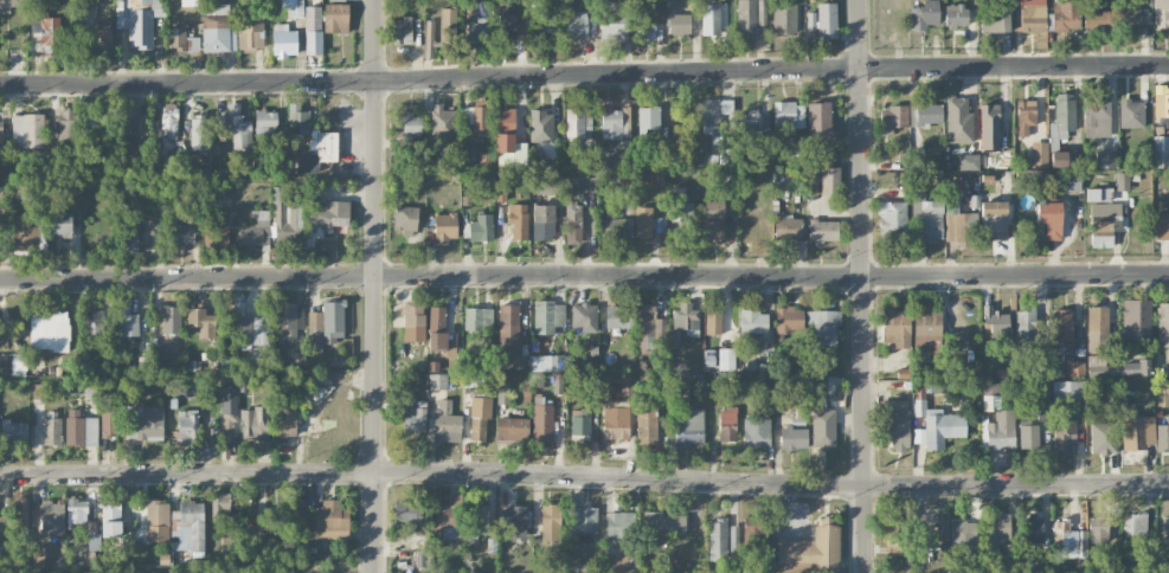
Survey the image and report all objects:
building: (538, 2)
building: (12, 5)
building: (294, 8)
building: (750, 14)
building: (1161, 14)
building: (923, 15)
building: (955, 15)
building: (1028, 15)
building: (1065, 15)
building: (336, 18)
building: (784, 18)
building: (823, 18)
building: (1132, 18)
building: (711, 19)
building: (1096, 19)
building: (136, 20)
building: (614, 20)
building: (647, 20)
building: (994, 20)
building: (542, 24)
building: (679, 24)
building: (579, 25)
building: (448, 26)
building: (217, 30)
building: (250, 30)
building: (313, 30)
building: (477, 30)
building: (46, 31)
building: (402, 31)
building: (102, 39)
building: (181, 39)
building: (284, 41)
road: (584, 76)
building: (1161, 102)
building: (714, 112)
building: (929, 112)
building: (1130, 114)
building: (95, 115)
building: (121, 115)
building: (788, 115)
building: (912, 115)
building: (1025, 116)
building: (1062, 116)
building: (1096, 117)
building: (892, 118)
building: (169, 120)
building: (298, 120)
building: (476, 121)
building: (648, 121)
building: (958, 121)
building: (756, 122)
building: (820, 122)
building: (443, 123)
building: (577, 123)
building: (614, 123)
building: (68, 125)
building: (235, 125)
building: (264, 125)
building: (411, 125)
building: (541, 125)
building: (989, 127)
building: (505, 129)
building: (27, 130)
building: (200, 134)
building: (795, 148)
building: (317, 152)
building: (1160, 152)
building: (1038, 155)
building: (1058, 159)
building: (1105, 159)
building: (968, 161)
building: (484, 162)
building: (721, 179)
building: (830, 180)
building: (1072, 181)
building: (550, 184)
building: (1097, 194)
building: (680, 205)
building: (576, 207)
building: (328, 215)
building: (285, 217)
building: (927, 217)
building: (405, 218)
building: (892, 218)
building: (713, 219)
building: (1049, 219)
building: (518, 220)
building: (993, 220)
building: (59, 223)
building: (542, 223)
building: (643, 223)
building: (1104, 223)
building: (615, 225)
building: (660, 225)
building: (445, 226)
building: (1161, 226)
building: (786, 227)
building: (481, 228)
building: (822, 230)
building: (956, 231)
building: (256, 232)
building: (181, 233)
building: (24, 234)
building: (130, 234)
building: (216, 236)
road: (375, 236)
road: (584, 276)
road: (862, 285)
building: (413, 314)
building: (547, 316)
building: (583, 316)
building: (618, 317)
building: (127, 318)
building: (172, 318)
building: (649, 318)
building: (789, 318)
building: (1136, 318)
building: (477, 320)
building: (290, 321)
building: (333, 321)
building: (683, 321)
building: (996, 321)
building: (201, 322)
building: (713, 322)
building: (753, 322)
building: (94, 324)
building: (508, 324)
building: (1163, 324)
building: (824, 326)
building: (50, 329)
building: (895, 329)
building: (1026, 329)
building: (1097, 329)
building: (250, 331)
building: (315, 331)
building: (439, 333)
building: (927, 333)
building: (1062, 333)
building: (294, 359)
building: (726, 359)
building: (547, 362)
building: (1135, 367)
building: (1040, 371)
building: (1099, 371)
building: (437, 381)
building: (558, 384)
building: (1162, 386)
building: (991, 389)
building: (1067, 389)
building: (39, 391)
building: (502, 392)
building: (1041, 400)
building: (229, 401)
building: (480, 418)
building: (287, 419)
building: (447, 419)
building: (936, 419)
building: (415, 420)
building: (541, 420)
building: (616, 420)
building: (108, 421)
building: (144, 421)
building: (580, 421)
building: (253, 423)
building: (897, 423)
building: (229, 424)
building: (727, 424)
building: (187, 426)
building: (645, 426)
building: (688, 426)
building: (81, 429)
building: (512, 429)
building: (823, 429)
building: (1001, 430)
building: (14, 431)
building: (52, 431)
building: (756, 432)
building: (1137, 432)
building: (1064, 433)
building: (1162, 436)
building: (1028, 437)
building: (794, 438)
building: (1103, 438)
road: (584, 476)
building: (220, 504)
building: (77, 511)
building: (405, 511)
building: (20, 513)
building: (300, 516)
building: (52, 517)
building: (110, 517)
building: (448, 517)
building: (278, 519)
building: (476, 519)
building: (514, 519)
building: (332, 520)
building: (158, 521)
building: (1033, 522)
road: (374, 523)
building: (583, 523)
building: (551, 524)
building: (619, 524)
building: (663, 524)
building: (942, 524)
building: (996, 527)
building: (1133, 527)
building: (1097, 529)
building: (1165, 532)
building: (963, 535)
building: (721, 540)
building: (1067, 540)
building: (757, 541)
building: (895, 541)
building: (94, 542)
building: (811, 551)
building: (616, 564)

